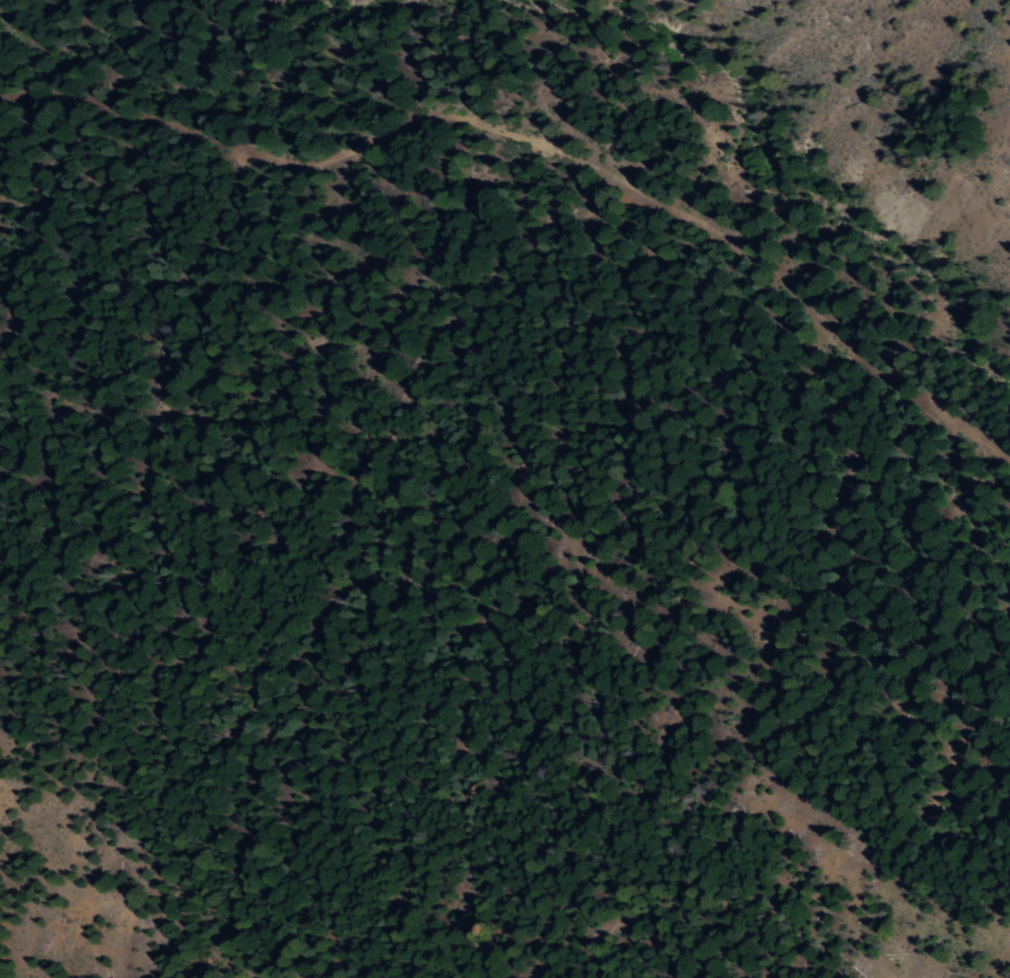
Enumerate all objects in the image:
road: (543, 125)

